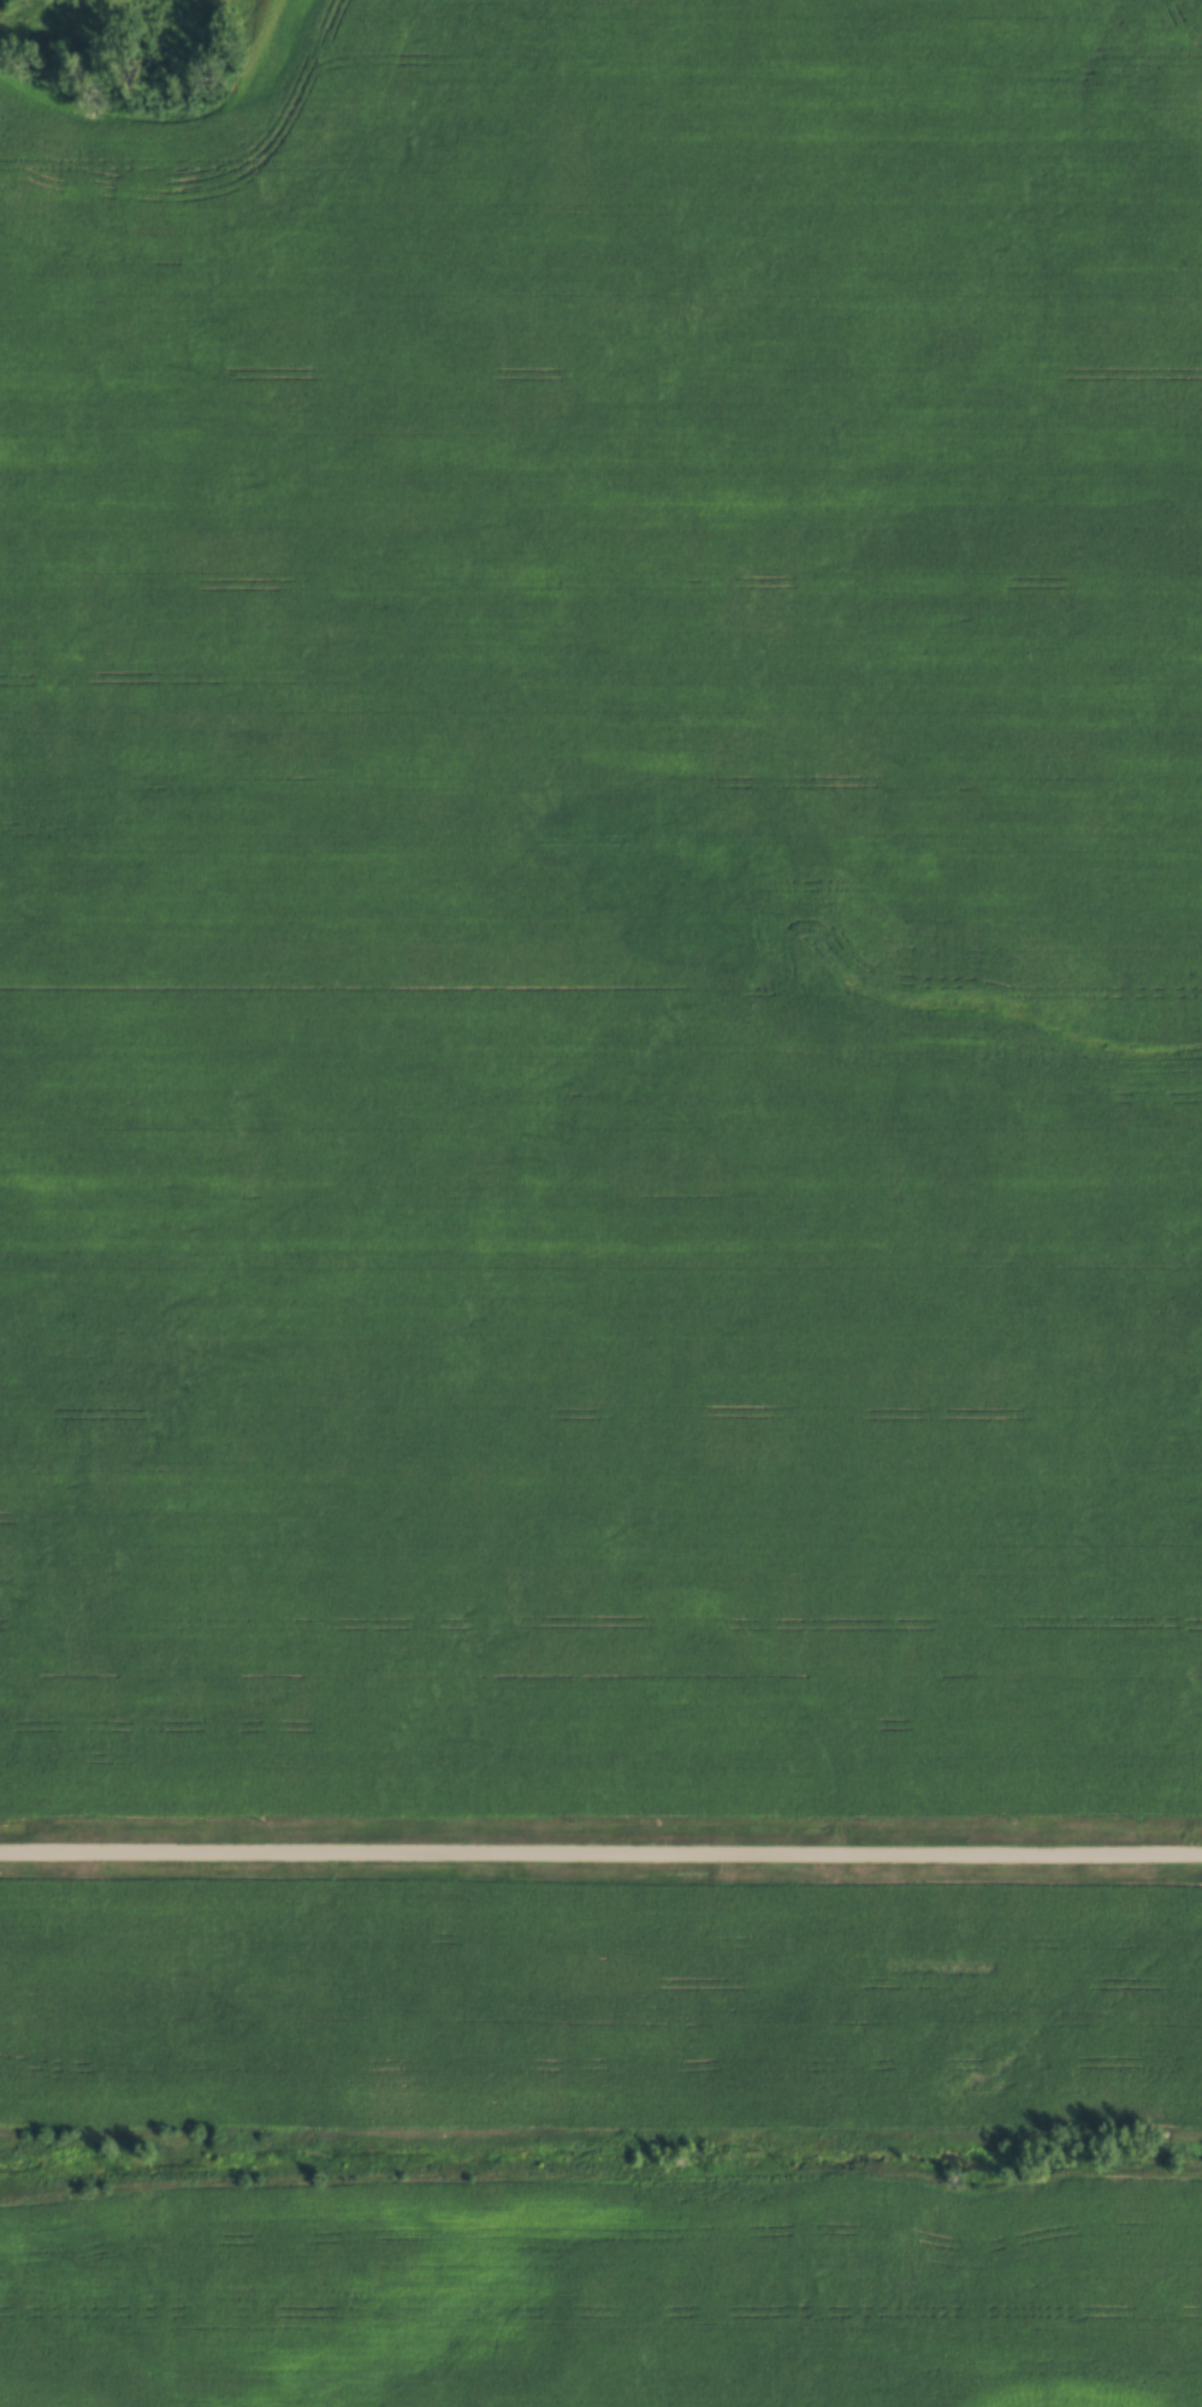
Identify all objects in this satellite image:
road: (600, 1846)

